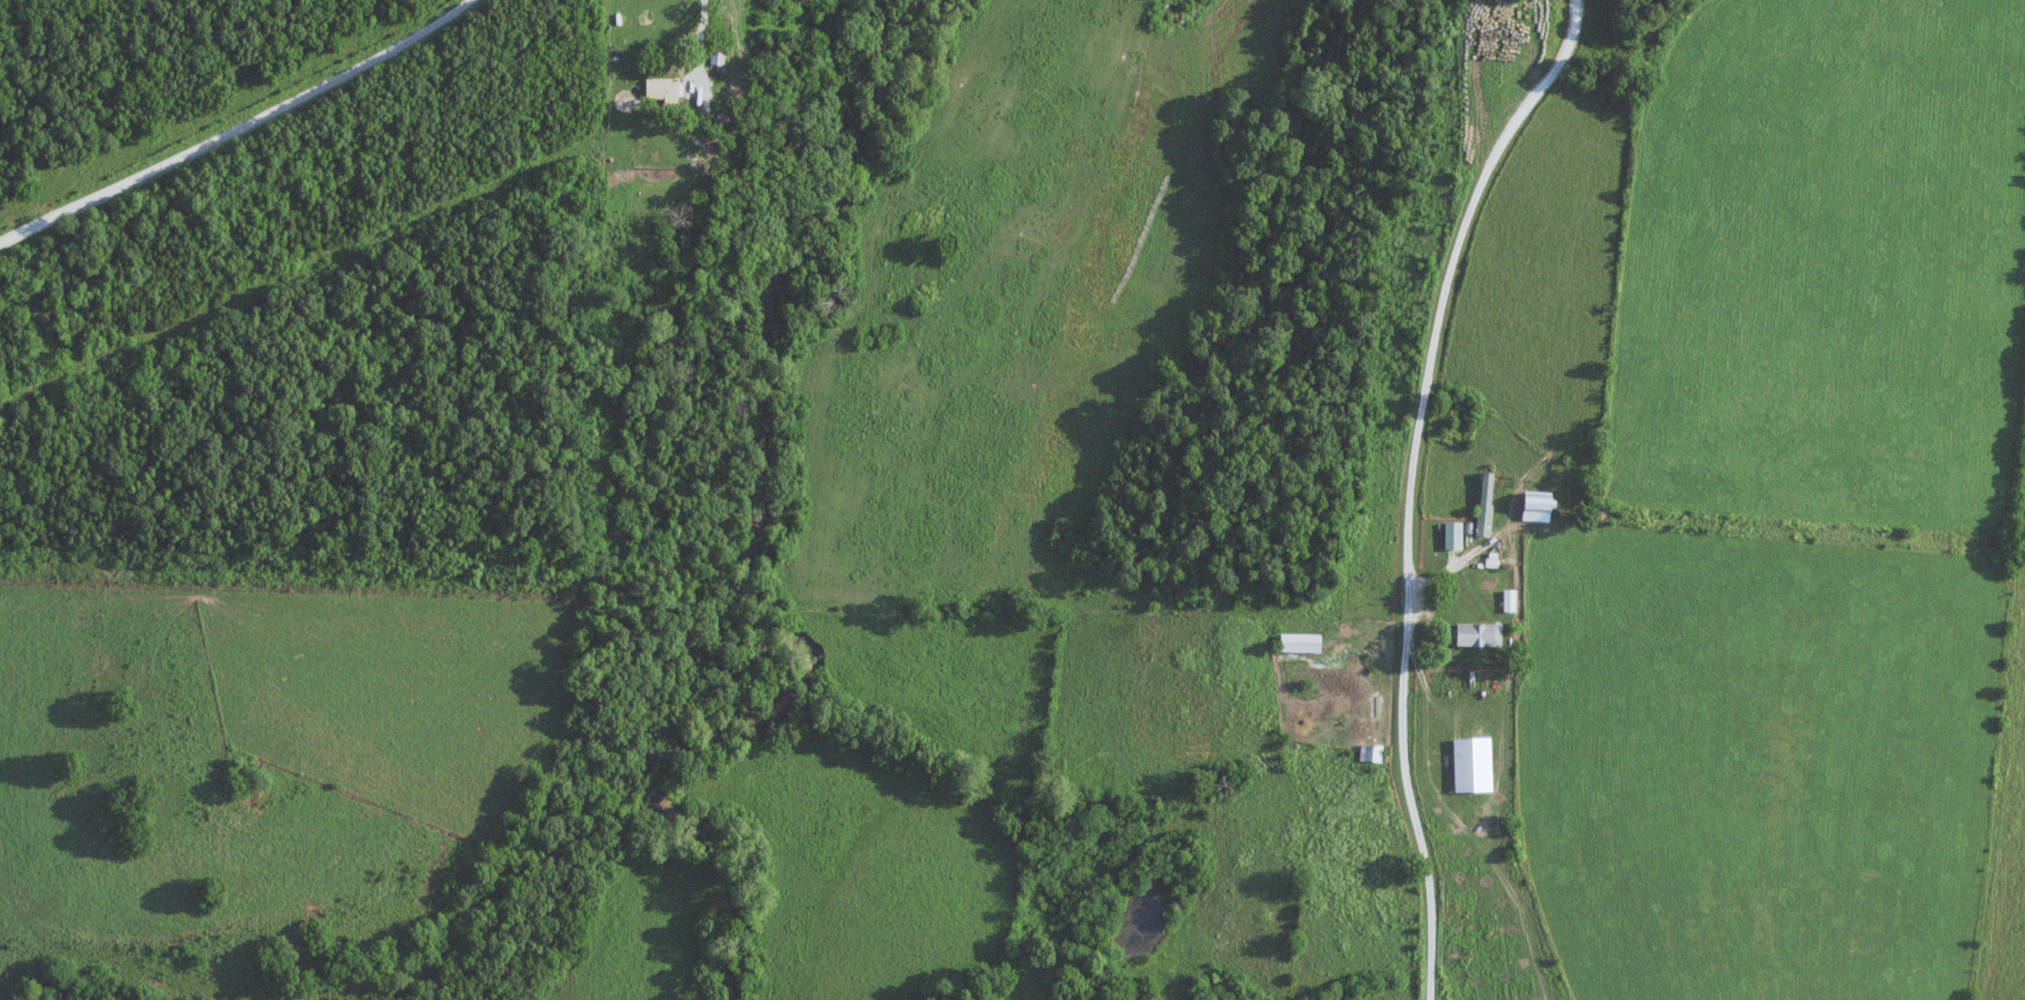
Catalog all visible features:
road: (711, 58)
building: (719, 58)
building: (665, 90)
road: (246, 131)
building: (630, 158)
road: (1415, 483)
building: (1486, 503)
building: (1540, 507)
building: (1454, 535)
building: (1510, 600)
building: (1480, 635)
building: (1302, 643)
building: (1370, 753)
building: (1474, 764)

